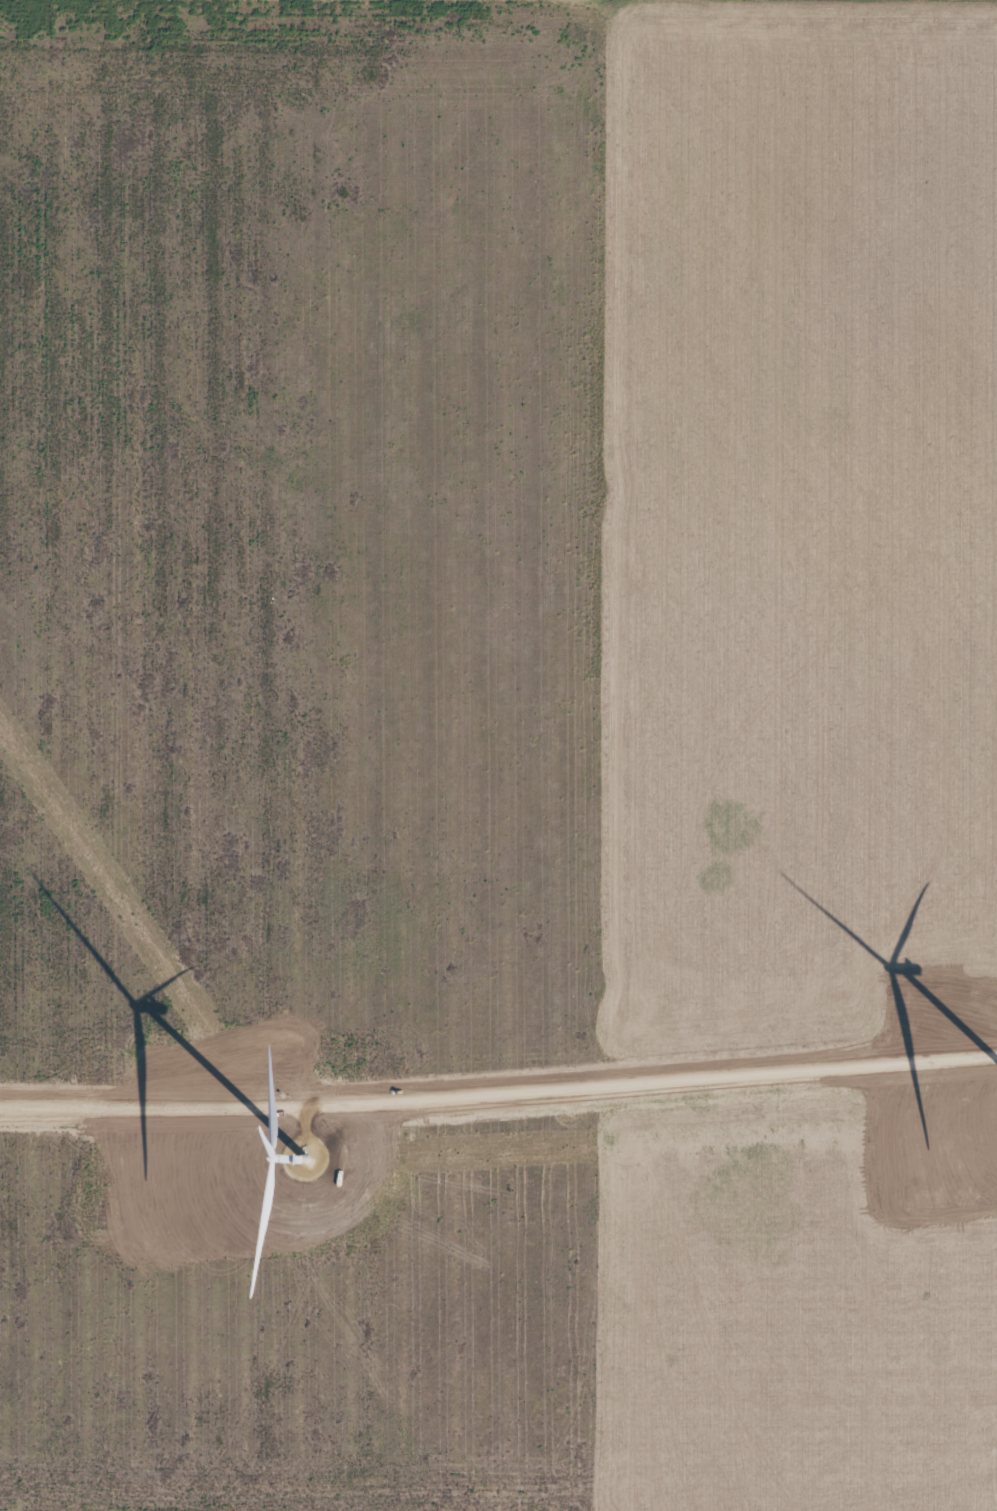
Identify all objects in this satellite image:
wind turbine: (297, 1166)

